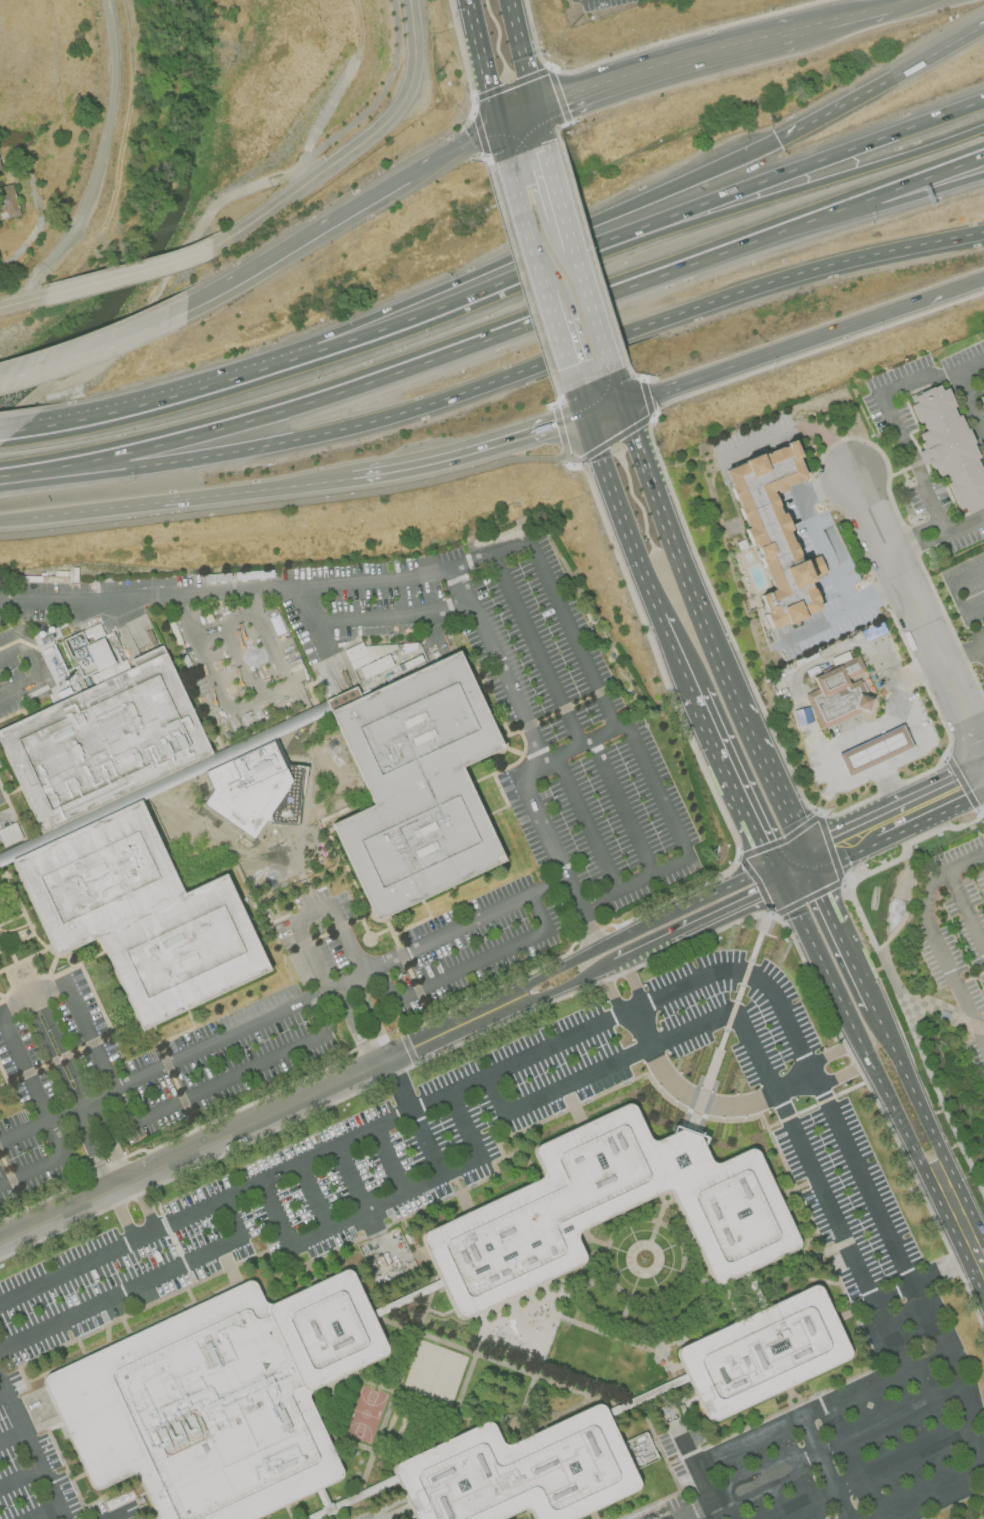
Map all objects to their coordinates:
road: (904, 3)
road: (848, 18)
road: (527, 55)
road: (485, 64)
road: (671, 67)
road: (882, 83)
road: (334, 101)
road: (377, 109)
road: (395, 109)
traffic signals: (541, 111)
road: (521, 120)
crop: (51, 127)
road: (545, 128)
traffic signals: (501, 129)
traffic signals: (779, 140)
road: (504, 145)
road: (935, 165)
road: (122, 169)
road: (935, 171)
road: (560, 180)
road: (875, 204)
road: (262, 212)
road: (827, 212)
road: (341, 213)
road: (660, 219)
river: (161, 229)
road: (557, 239)
road: (617, 254)
road: (132, 269)
road: (542, 274)
road: (953, 290)
road: (593, 294)
road: (23, 298)
road: (143, 313)
road: (95, 346)
road: (775, 352)
road: (293, 360)
road: (388, 375)
building: (982, 379)
road: (497, 381)
road: (623, 387)
road: (971, 399)
building: (981, 399)
road: (583, 400)
traffic signals: (628, 402)
road: (607, 407)
road: (135, 408)
traffic signals: (587, 413)
road: (632, 415)
road: (895, 418)
road: (798, 427)
traffic signals: (637, 428)
road: (593, 432)
road: (9, 433)
building: (948, 446)
traffic signals: (600, 452)
road: (456, 455)
road: (307, 482)
road: (324, 501)
road: (162, 502)
road: (15, 520)
building: (780, 521)
road: (964, 526)
road: (815, 530)
road: (912, 532)
road: (918, 546)
road: (684, 565)
road: (644, 574)
road: (268, 587)
road: (953, 591)
road: (393, 615)
road: (843, 615)
road: (919, 615)
road: (314, 621)
road: (572, 633)
road: (270, 636)
road: (19, 645)
road: (236, 645)
road: (537, 649)
road: (962, 649)
road: (200, 653)
road: (827, 657)
building: (366, 660)
road: (499, 665)
road: (916, 671)
road: (43, 676)
building: (838, 693)
road: (261, 700)
building: (801, 716)
road: (862, 732)
road: (572, 749)
building: (873, 750)
gas station: (873, 750)
road: (885, 767)
road: (772, 780)
building: (421, 783)
road: (737, 787)
road: (657, 792)
road: (892, 792)
road: (930, 800)
road: (622, 808)
parking lot: (4, 815)
road: (588, 825)
building: (129, 842)
road: (551, 842)
road: (842, 842)
traffic signals: (808, 859)
parking lot: (616, 860)
road: (793, 869)
traffic signals: (779, 880)
road: (634, 885)
road: (821, 891)
road: (966, 911)
road: (466, 922)
road: (337, 923)
road: (698, 927)
road: (634, 931)
parking lot: (956, 934)
road: (934, 940)
road: (309, 955)
road: (886, 966)
road: (857, 972)
road: (725, 973)
road: (633, 984)
road: (557, 993)
road: (612, 994)
road: (31, 1000)
road: (370, 1011)
road: (945, 1014)
road: (352, 1027)
road: (89, 1038)
road: (203, 1049)
road: (63, 1050)
road: (718, 1053)
road: (830, 1055)
road: (50, 1056)
road: (838, 1075)
road: (228, 1078)
road: (30, 1083)
road: (399, 1087)
road: (880, 1093)
road: (700, 1100)
road: (249, 1122)
road: (464, 1127)
road: (23, 1131)
road: (930, 1133)
road: (109, 1140)
road: (426, 1145)
road: (90, 1148)
road: (388, 1163)
road: (34, 1172)
road: (351, 1180)
road: (816, 1182)
road: (313, 1198)
road: (143, 1203)
building: (613, 1212)
road: (120, 1214)
road: (352, 1219)
parking lot: (206, 1244)
road: (973, 1255)
road: (918, 1281)
road: (138, 1286)
road: (858, 1310)
building: (768, 1352)
road: (1, 1397)
building: (221, 1402)
park: (365, 1416)
road: (9, 1437)
road: (27, 1450)
road: (824, 1467)
building: (524, 1471)
road: (872, 1473)
road: (964, 1477)
road: (19, 1480)
road: (46, 1514)
parking lot: (369, 1515)

